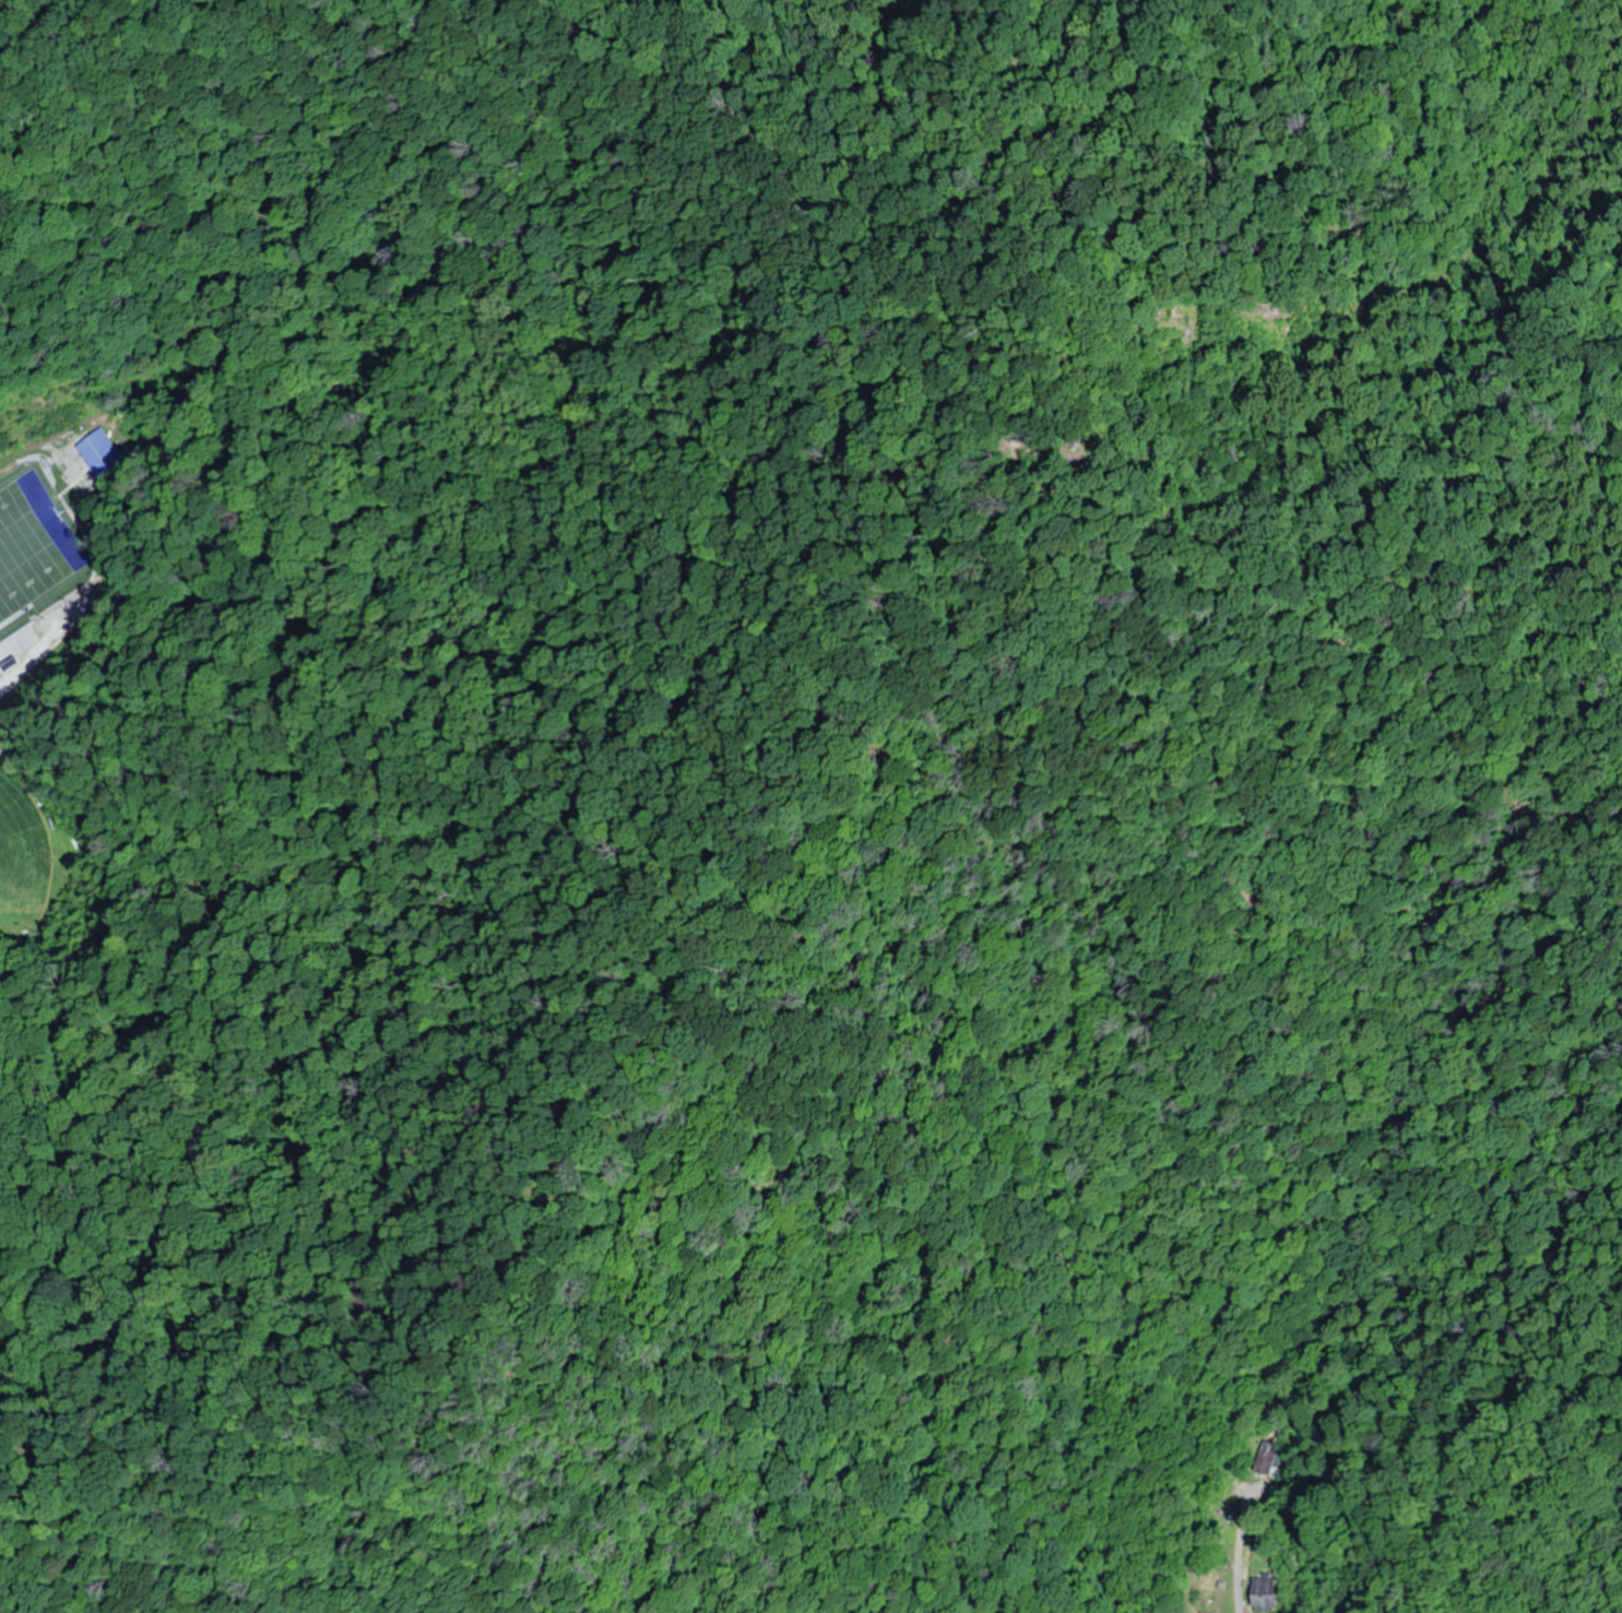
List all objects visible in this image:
building: (98, 454)
park: (31, 547)
building: (20, 647)
park: (20, 857)
building: (1265, 1458)
building: (1260, 1592)

